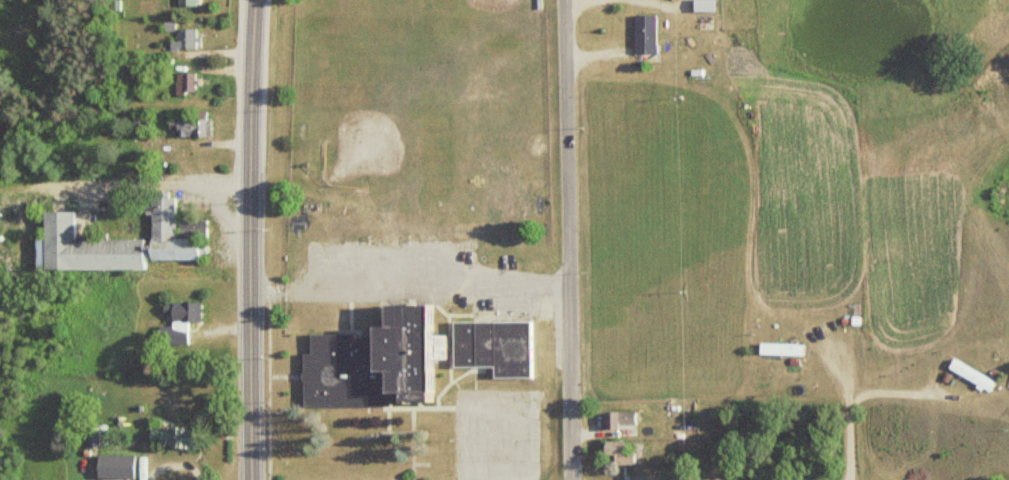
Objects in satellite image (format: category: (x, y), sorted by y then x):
road: (566, 0)
road: (665, 2)
building: (185, 3)
building: (644, 34)
building: (184, 40)
building: (184, 82)
building: (137, 121)
building: (189, 128)
building: (195, 208)
road: (250, 239)
road: (565, 240)
building: (122, 241)
road: (408, 291)
building: (176, 321)
building: (491, 346)
building: (778, 349)
building: (374, 360)
building: (969, 375)
road: (902, 393)
road: (850, 408)
building: (615, 421)
building: (172, 435)
building: (619, 455)
building: (113, 466)

